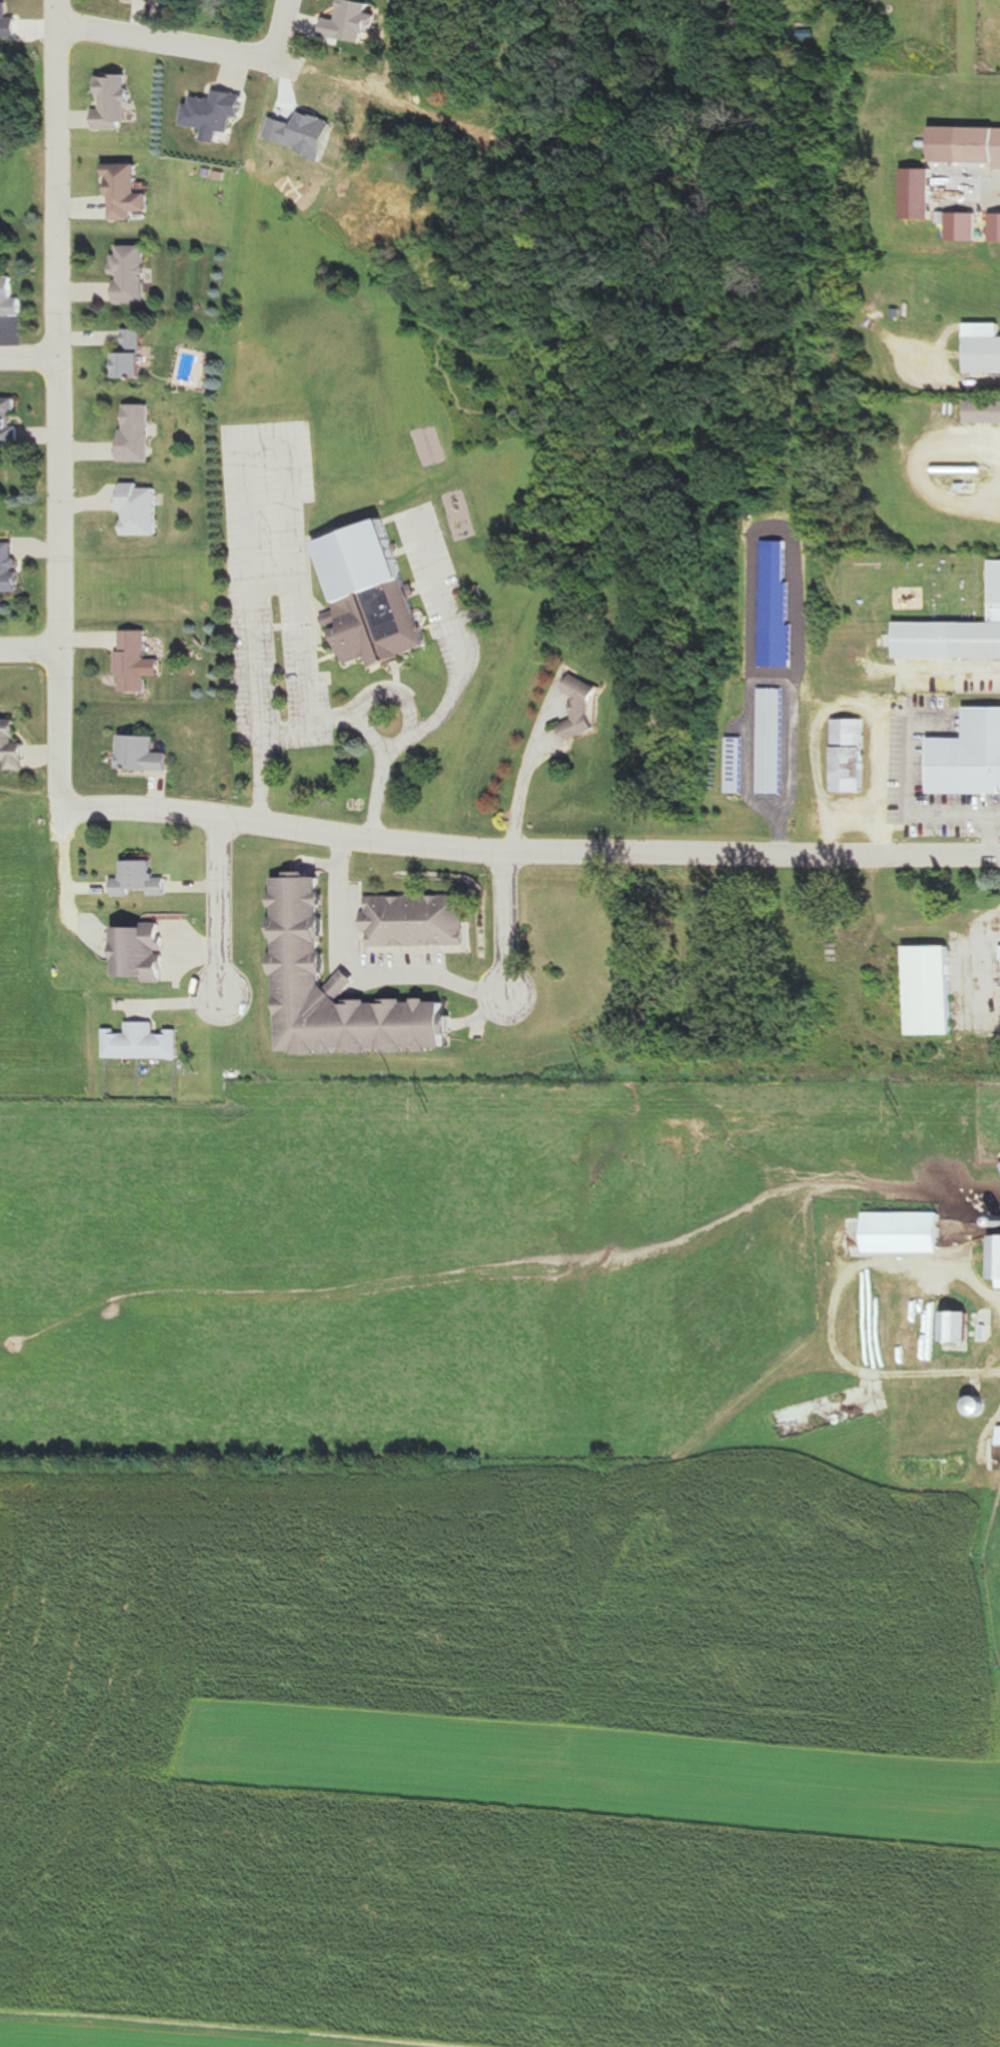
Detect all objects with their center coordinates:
building: (150, 8)
road: (288, 31)
road: (175, 45)
building: (116, 102)
building: (967, 145)
building: (128, 193)
building: (921, 194)
building: (132, 275)
building: (10, 299)
building: (984, 349)
road: (31, 353)
building: (134, 355)
road: (63, 404)
building: (984, 413)
building: (11, 421)
building: (137, 432)
road: (257, 440)
building: (141, 509)
building: (11, 568)
building: (374, 594)
building: (955, 634)
road: (32, 648)
building: (135, 660)
road: (460, 685)
building: (586, 709)
road: (361, 726)
building: (779, 740)
building: (13, 745)
building: (147, 754)
building: (852, 755)
building: (970, 756)
building: (744, 764)
road: (531, 851)
building: (143, 880)
road: (70, 884)
road: (223, 906)
building: (419, 921)
building: (144, 952)
road: (433, 978)
building: (341, 990)
building: (932, 990)
building: (143, 1042)
power tower: (0, 1106)
power tower: (435, 1108)
power tower: (902, 1111)
building: (906, 1232)
building: (999, 1257)
road: (846, 1317)
building: (960, 1327)
building: (946, 1465)

